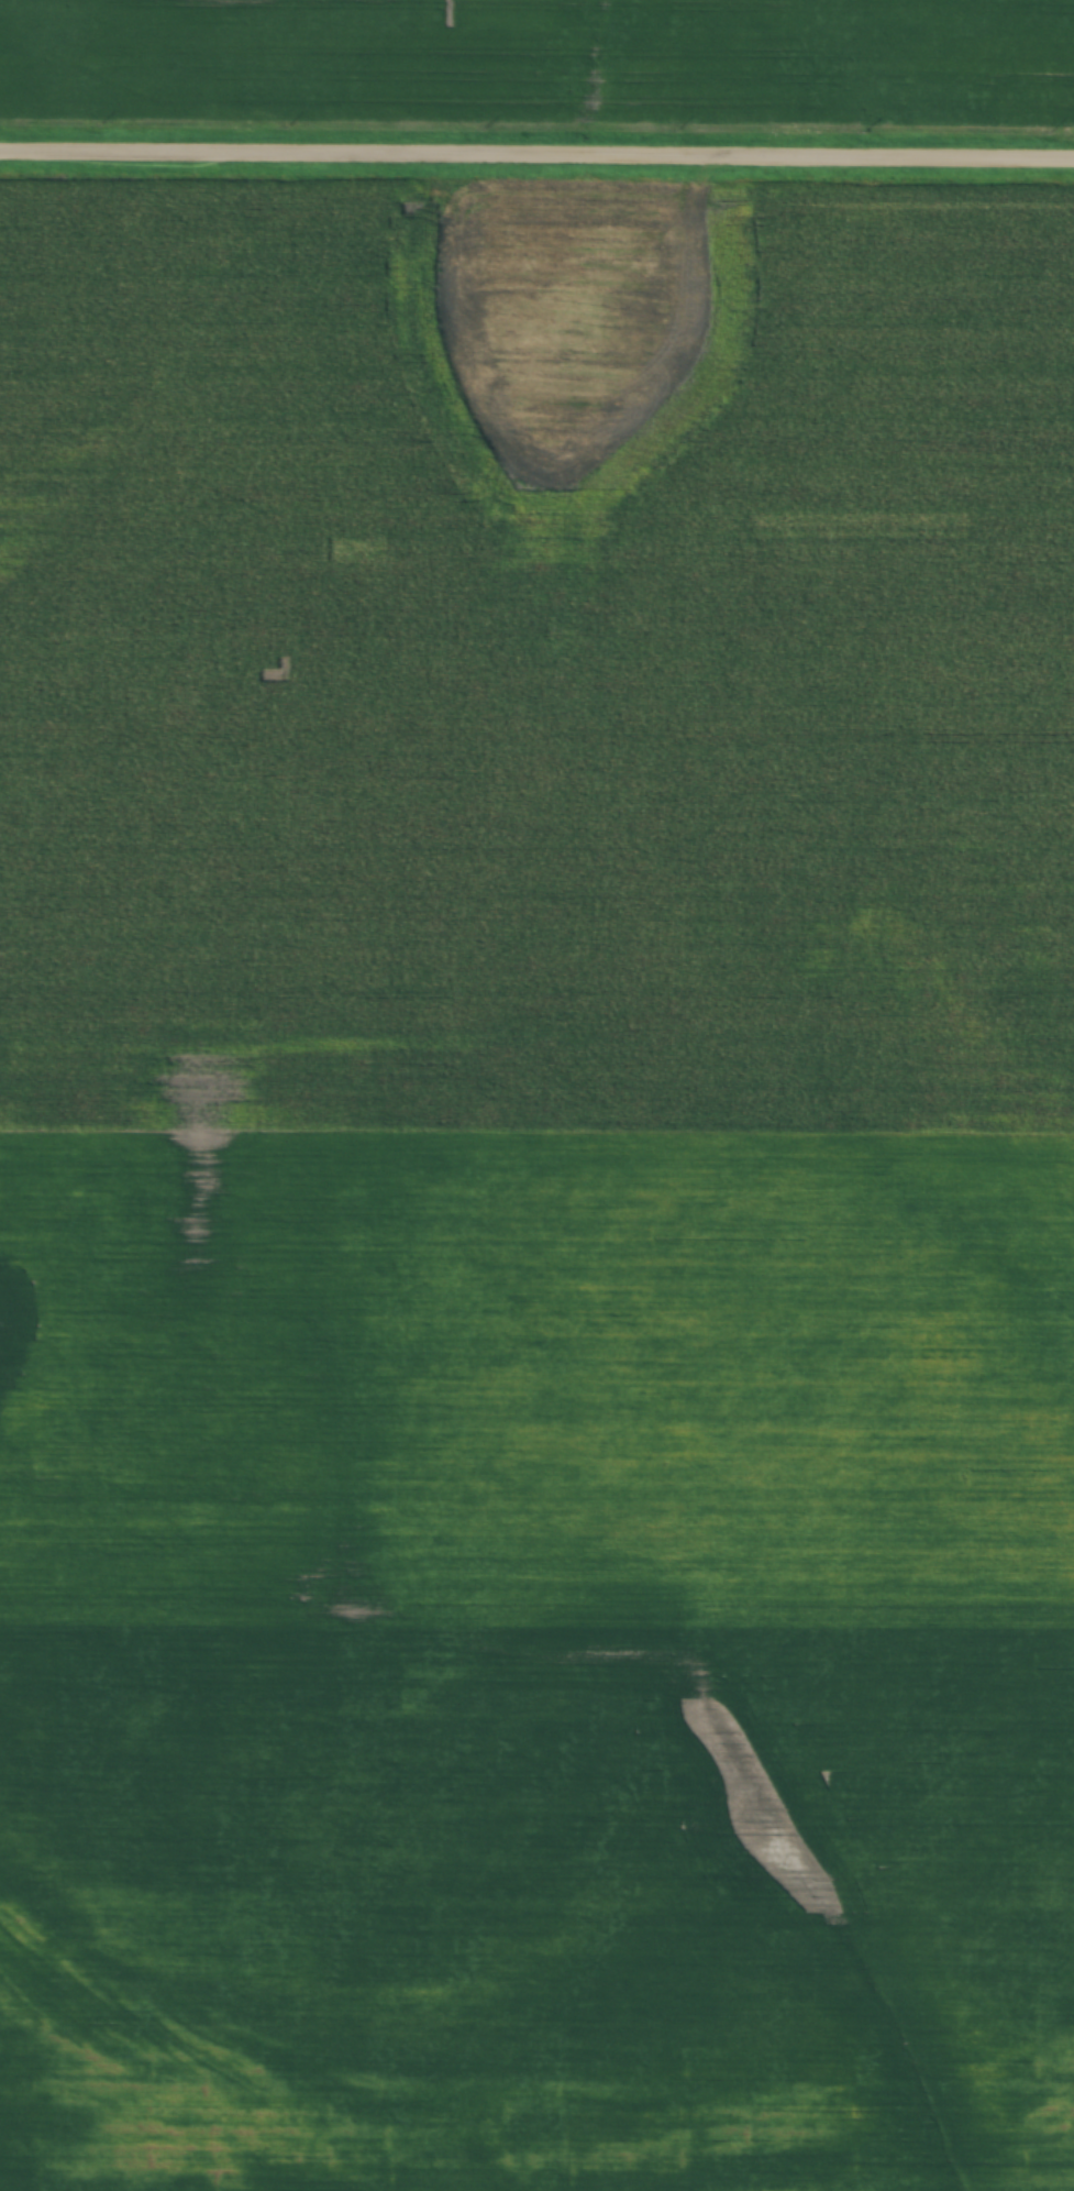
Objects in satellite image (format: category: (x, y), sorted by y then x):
road: (536, 157)

